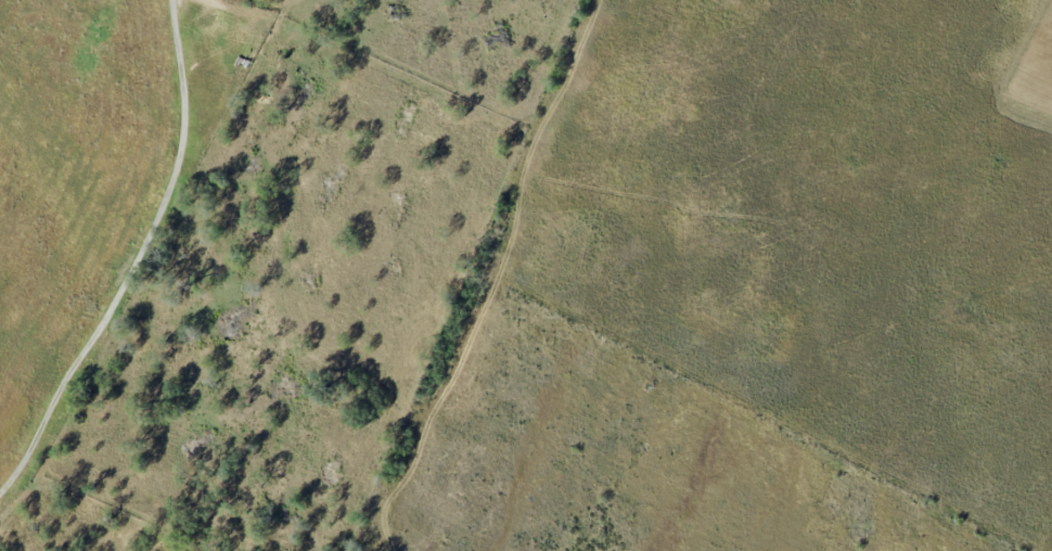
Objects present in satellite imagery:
road: (137, 261)

